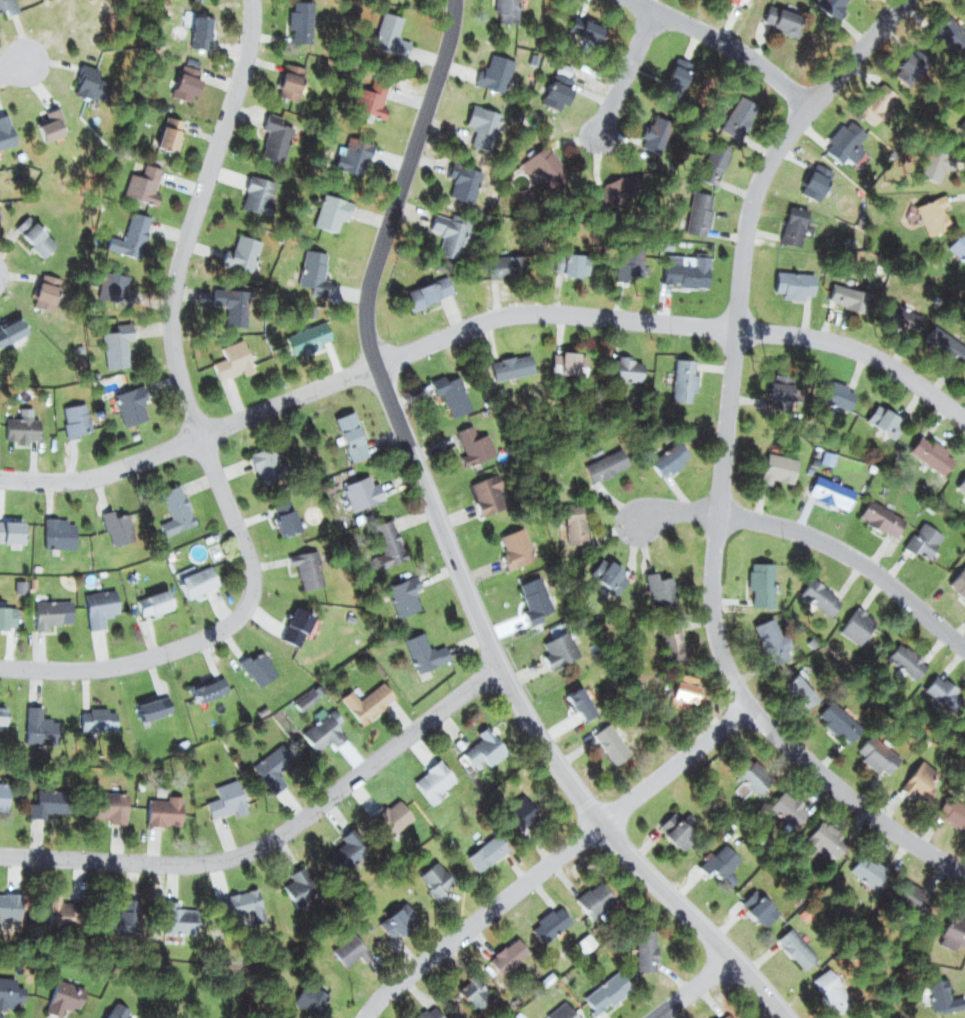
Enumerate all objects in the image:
building: (197, 1)
building: (731, 3)
building: (826, 4)
building: (10, 9)
building: (505, 10)
building: (782, 17)
building: (937, 21)
building: (581, 22)
building: (299, 23)
building: (200, 30)
building: (388, 30)
building: (951, 34)
road: (728, 46)
building: (905, 59)
road: (9, 67)
building: (911, 68)
building: (497, 70)
building: (681, 71)
road: (623, 72)
building: (185, 79)
building: (91, 83)
building: (299, 85)
building: (553, 93)
building: (874, 99)
building: (370, 102)
building: (738, 112)
building: (963, 124)
building: (8, 125)
building: (484, 127)
building: (53, 129)
building: (652, 133)
building: (169, 134)
building: (275, 139)
building: (845, 141)
building: (349, 147)
building: (932, 158)
building: (536, 159)
building: (711, 162)
building: (142, 178)
building: (810, 183)
building: (462, 184)
building: (611, 189)
building: (258, 192)
building: (330, 212)
building: (699, 212)
building: (932, 217)
building: (790, 225)
building: (38, 232)
building: (130, 235)
building: (448, 235)
building: (958, 248)
building: (241, 251)
building: (575, 259)
building: (501, 266)
building: (626, 266)
building: (311, 269)
building: (688, 274)
building: (794, 283)
building: (115, 288)
building: (426, 288)
building: (47, 294)
building: (842, 295)
building: (235, 310)
building: (898, 316)
road: (480, 323)
building: (11, 333)
building: (304, 339)
building: (947, 347)
building: (113, 348)
building: (234, 359)
building: (571, 361)
building: (510, 363)
building: (623, 371)
building: (682, 378)
building: (780, 392)
building: (839, 392)
building: (454, 394)
building: (129, 402)
building: (881, 417)
building: (78, 419)
building: (22, 428)
building: (345, 432)
road: (199, 435)
building: (470, 447)
building: (933, 454)
building: (271, 456)
building: (672, 457)
building: (604, 461)
road: (725, 466)
building: (769, 467)
building: (832, 483)
building: (962, 487)
building: (359, 493)
building: (488, 495)
building: (832, 495)
building: (886, 509)
building: (172, 510)
building: (286, 518)
building: (882, 520)
building: (115, 524)
building: (575, 527)
building: (59, 530)
building: (11, 532)
road: (809, 534)
building: (925, 537)
building: (381, 540)
building: (513, 543)
road: (452, 552)
building: (312, 568)
building: (609, 574)
building: (199, 578)
building: (661, 584)
building: (760, 584)
building: (959, 584)
building: (531, 593)
building: (400, 594)
building: (819, 598)
building: (146, 604)
building: (93, 607)
building: (52, 613)
building: (4, 615)
building: (294, 621)
building: (850, 624)
building: (668, 635)
building: (767, 638)
building: (562, 646)
building: (420, 651)
building: (255, 661)
building: (906, 662)
building: (204, 686)
building: (684, 690)
building: (936, 690)
building: (791, 691)
building: (580, 695)
building: (152, 698)
building: (363, 698)
building: (2, 715)
building: (96, 715)
building: (832, 721)
building: (960, 722)
building: (40, 725)
building: (322, 731)
building: (610, 742)
building: (484, 748)
building: (878, 752)
building: (269, 770)
building: (924, 772)
building: (428, 777)
building: (744, 782)
building: (222, 796)
building: (4, 801)
building: (106, 803)
building: (157, 805)
building: (952, 805)
building: (46, 807)
building: (523, 808)
building: (787, 808)
building: (389, 822)
building: (678, 829)
road: (276, 838)
building: (820, 841)
building: (336, 847)
building: (484, 847)
road: (555, 861)
building: (716, 861)
building: (864, 869)
building: (434, 874)
building: (294, 882)
building: (913, 893)
building: (234, 896)
building: (9, 897)
building: (591, 899)
building: (58, 908)
building: (760, 908)
building: (121, 914)
building: (172, 914)
building: (392, 918)
building: (547, 922)
building: (952, 933)
building: (640, 944)
building: (505, 945)
building: (793, 945)
building: (343, 947)
building: (508, 955)
road: (697, 987)
building: (475, 989)
building: (602, 989)
building: (827, 990)
building: (6, 992)
building: (939, 996)
building: (58, 997)
building: (308, 1000)
building: (422, 1009)
building: (113, 1010)
building: (563, 1012)
building: (717, 1013)
building: (859, 1015)
building: (866, 1017)

